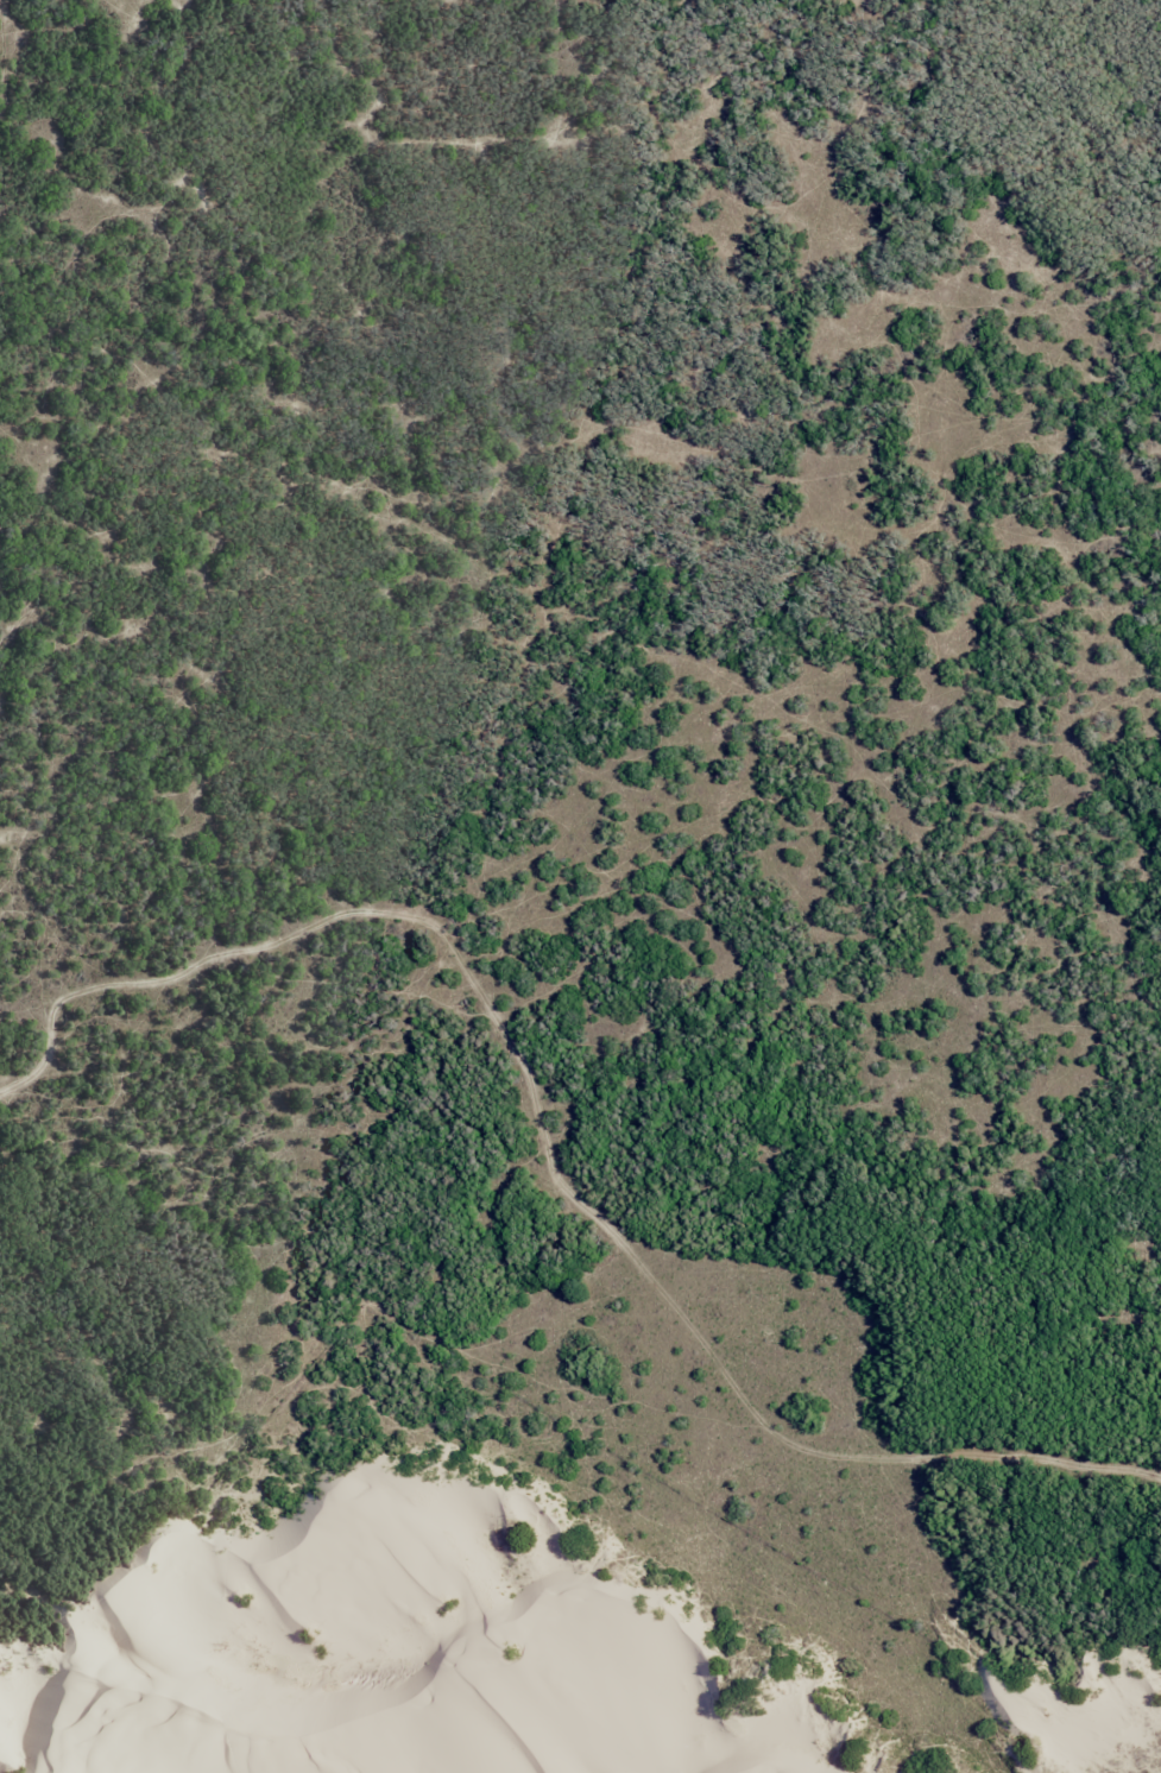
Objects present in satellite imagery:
road: (493, 1722)

